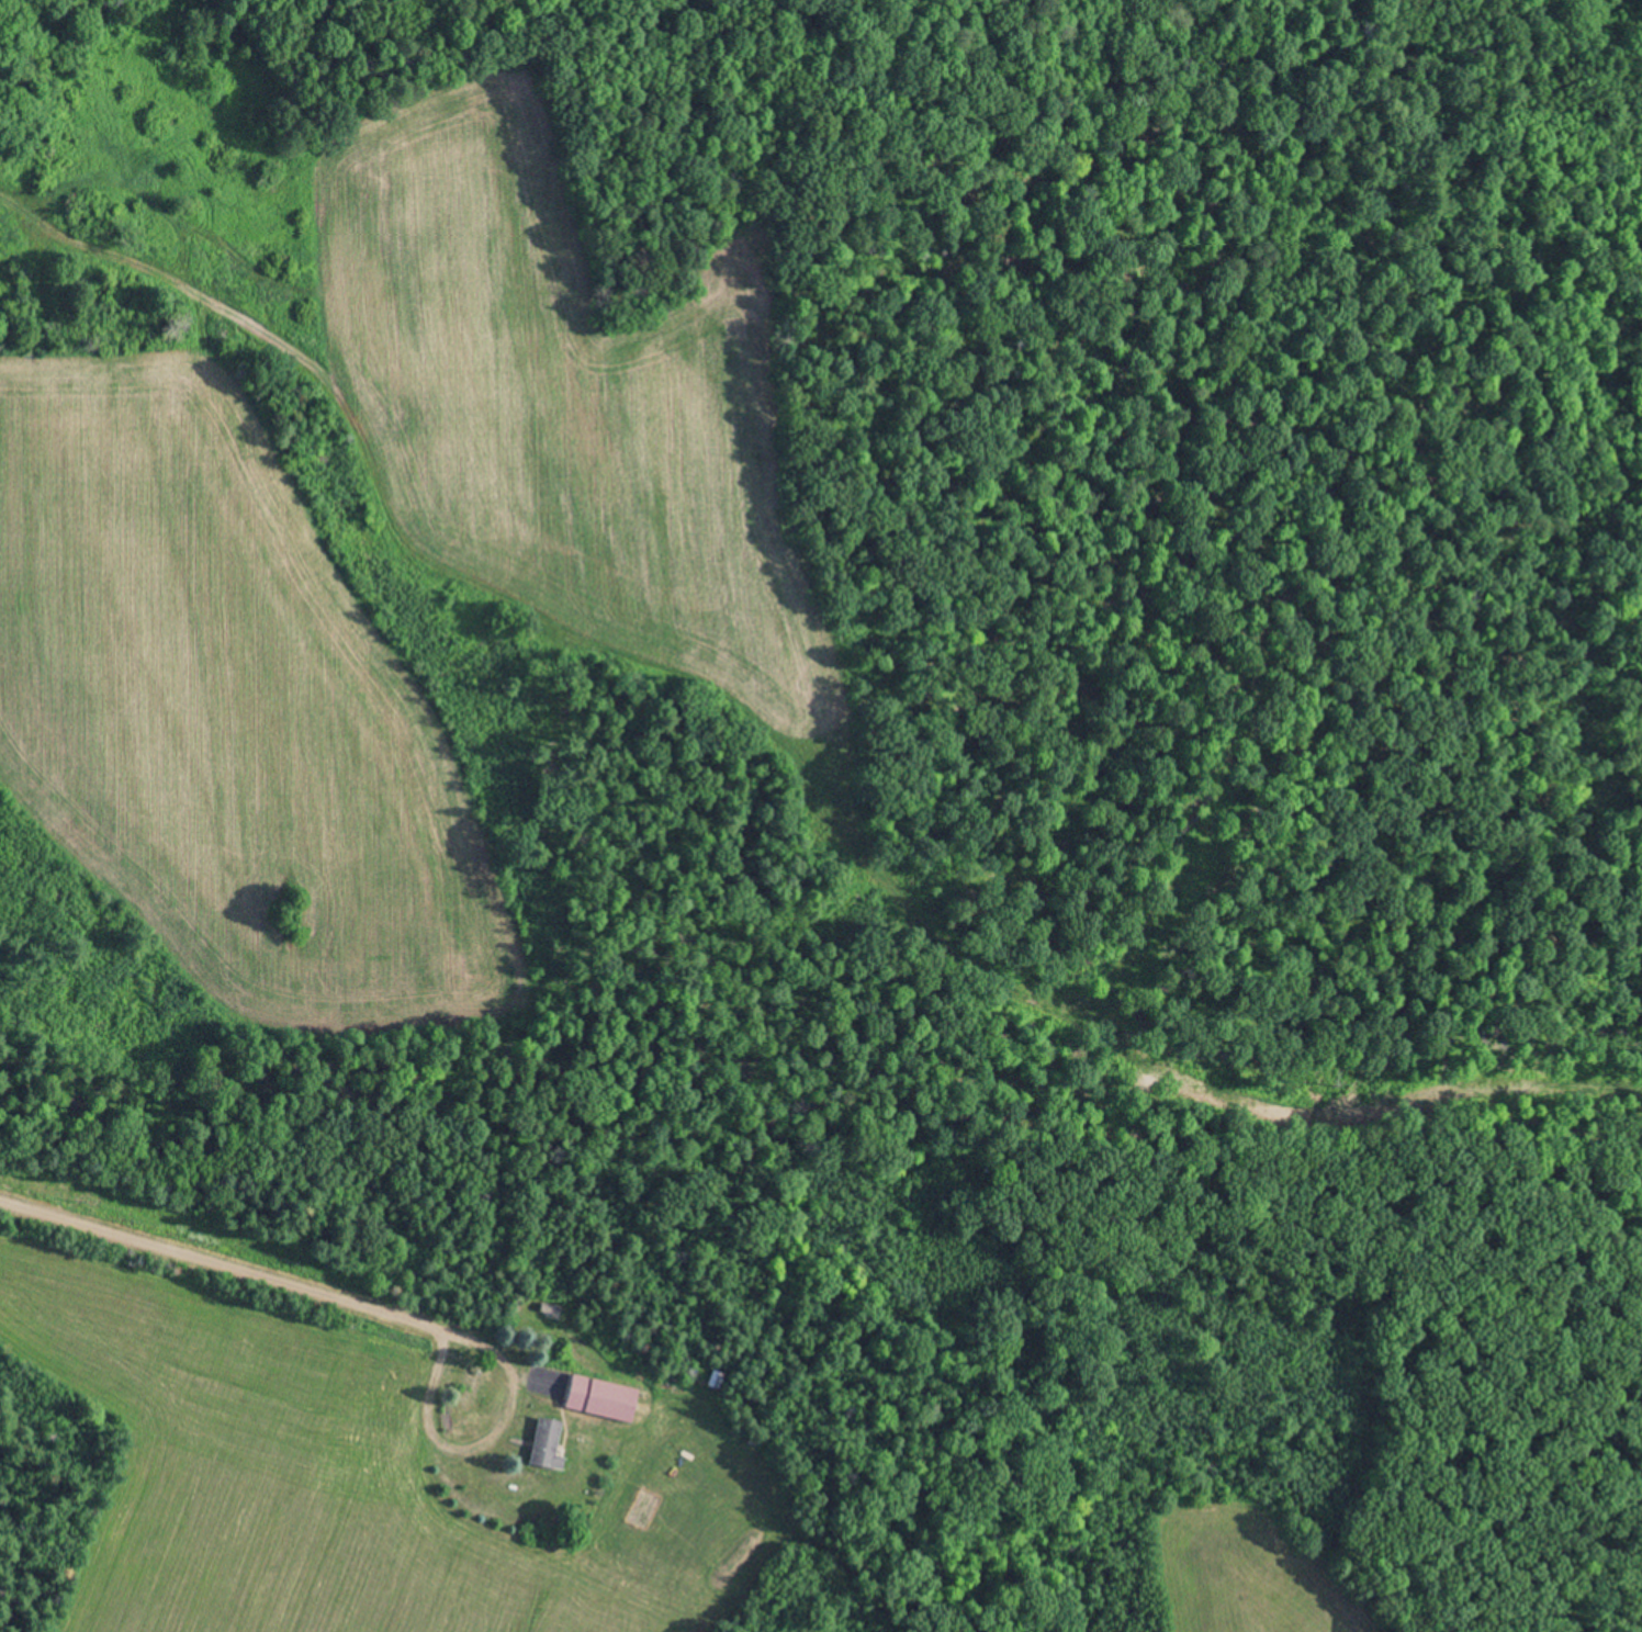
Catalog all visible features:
road: (273, 280)
building: (551, 1313)
building: (599, 1400)
building: (546, 1447)

